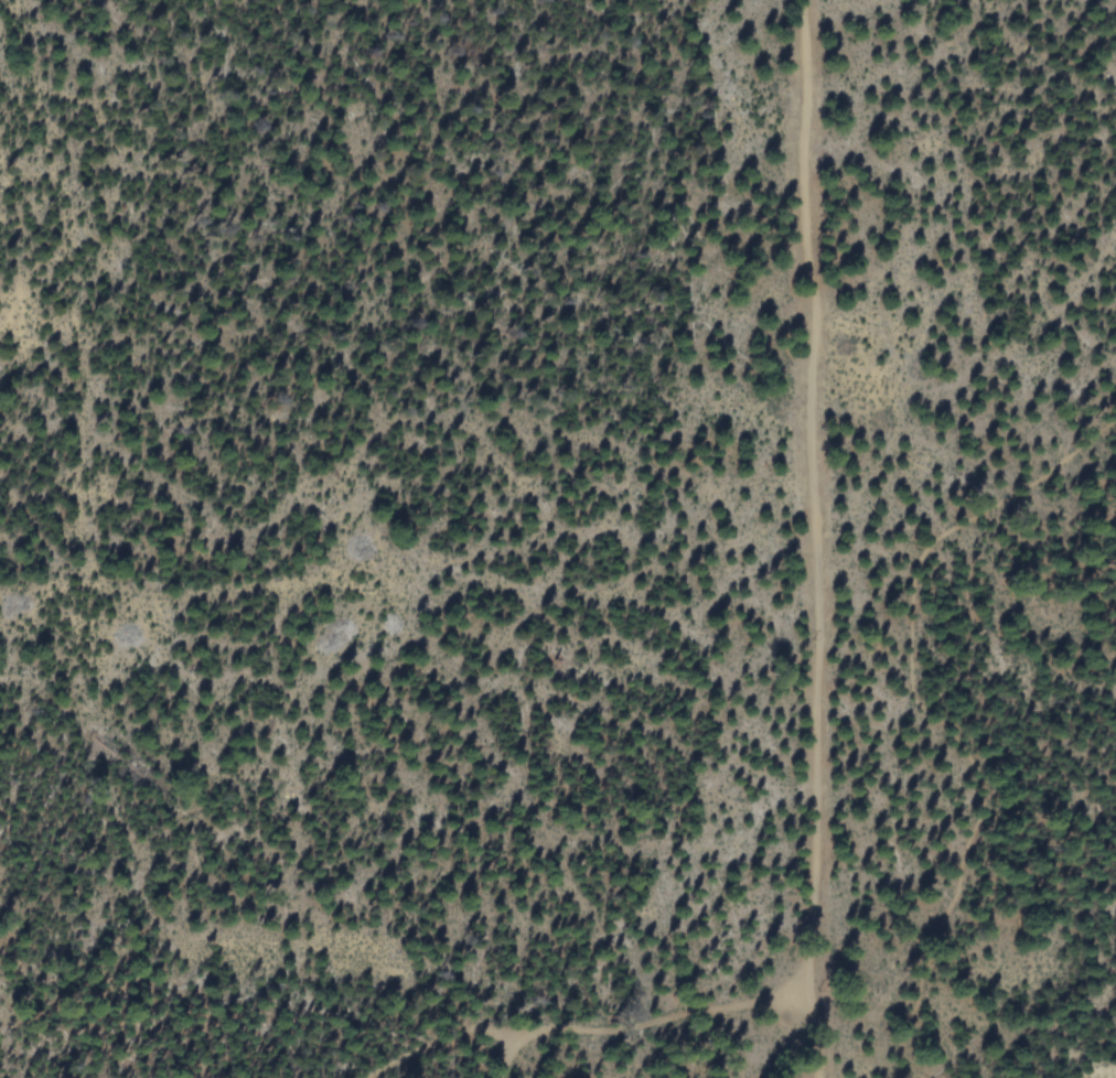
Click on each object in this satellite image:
road: (814, 539)
road: (927, 715)

